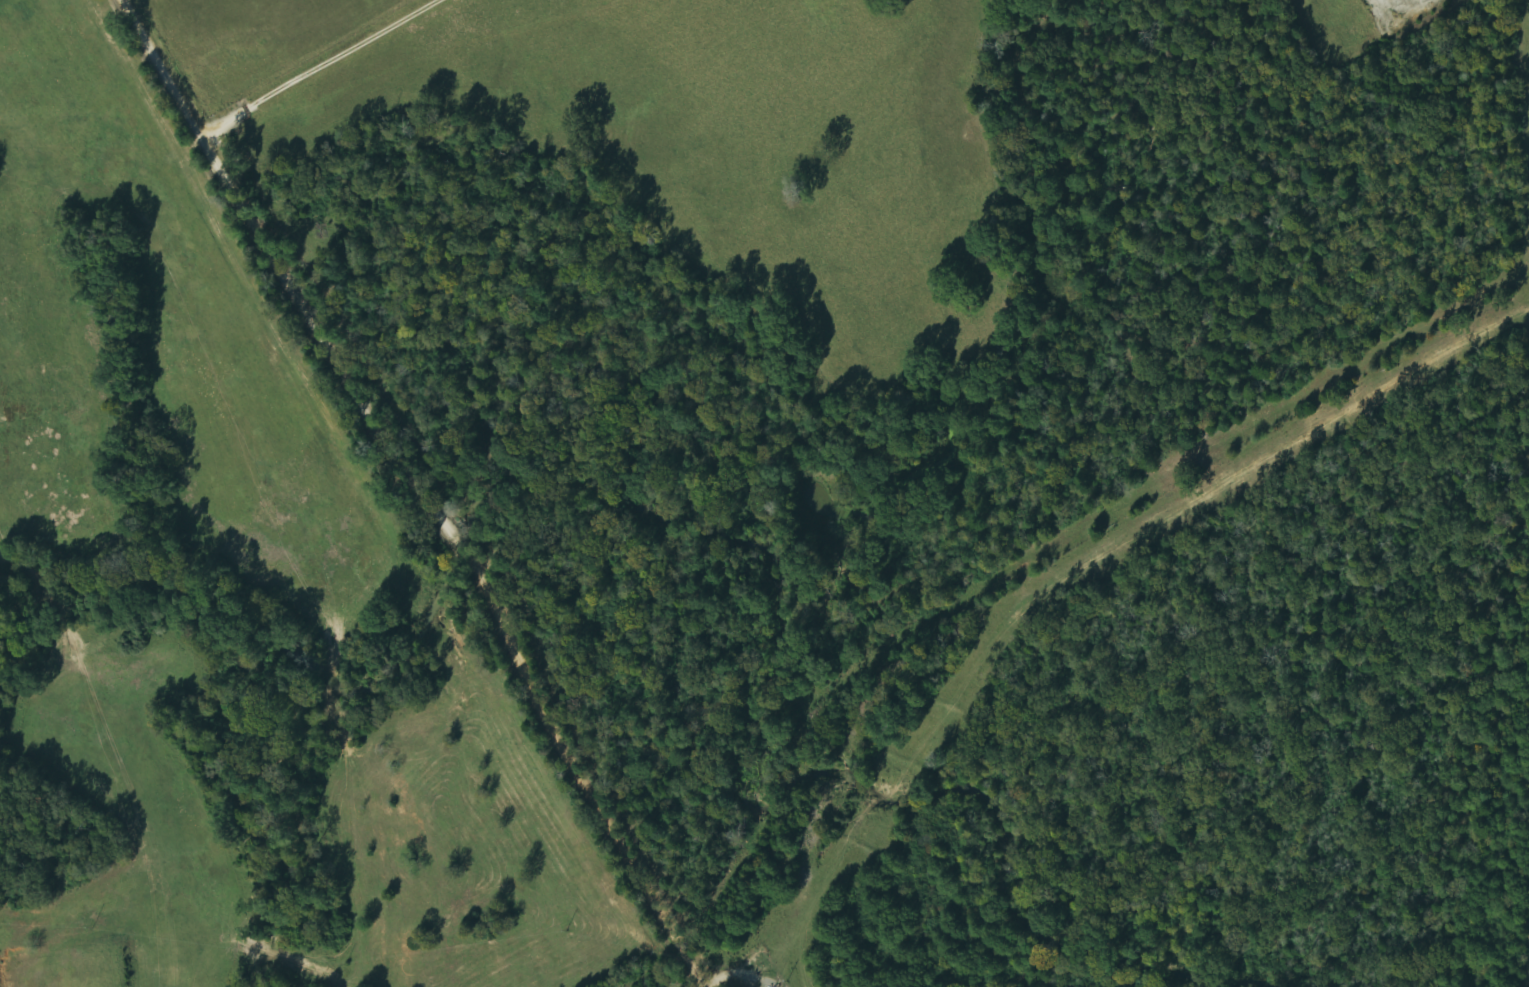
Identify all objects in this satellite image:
road: (417, 489)

